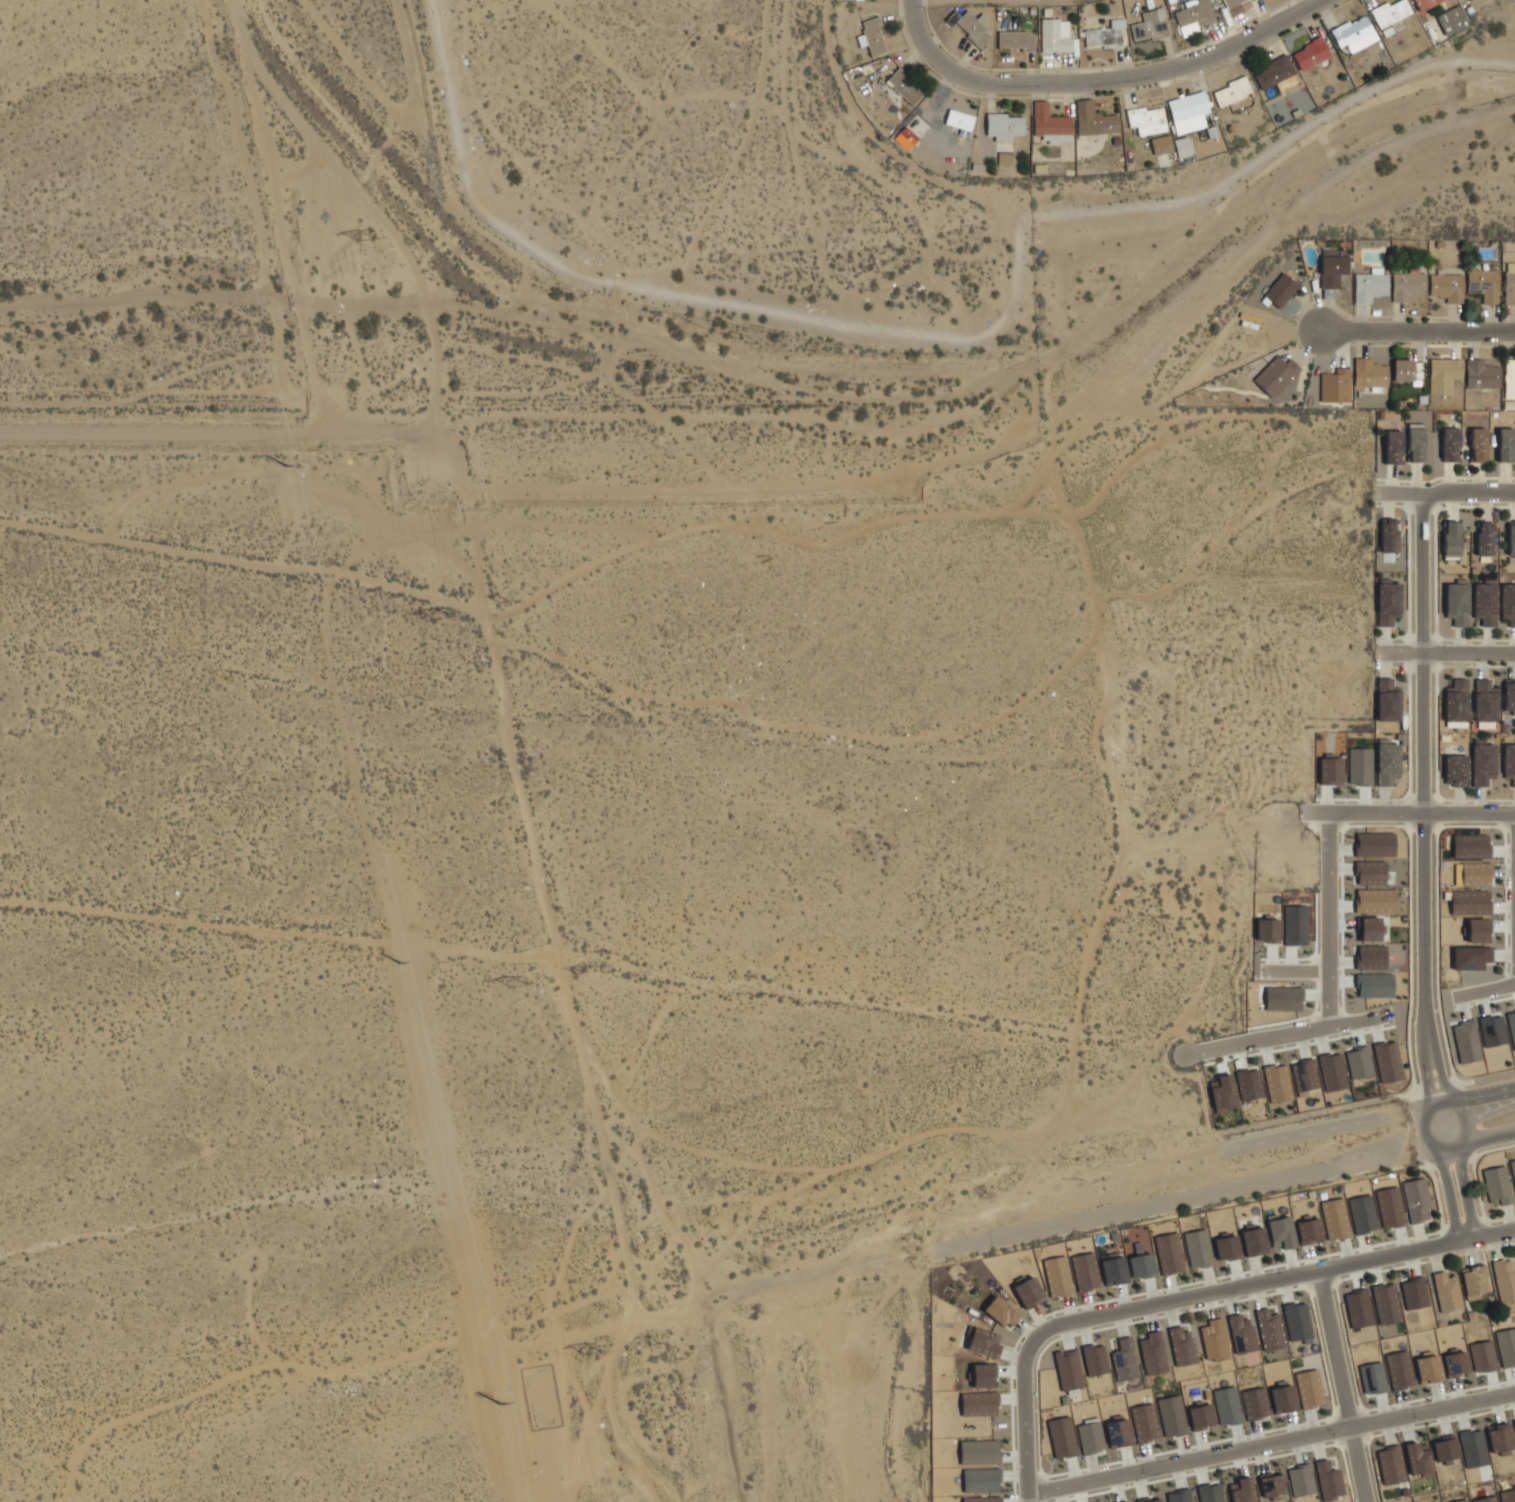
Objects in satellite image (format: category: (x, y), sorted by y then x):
building: (1424, 3)
building: (1238, 5)
building: (1389, 14)
building: (1194, 16)
building: (1452, 20)
building: (1151, 25)
building: (973, 28)
building: (1354, 33)
building: (1054, 35)
building: (1105, 35)
building: (873, 36)
building: (1015, 40)
building: (1310, 53)
building: (1273, 72)
road: (1101, 80)
building: (904, 86)
building: (1231, 91)
building: (1188, 112)
building: (1094, 119)
building: (959, 120)
building: (1147, 120)
building: (1050, 124)
building: (1003, 126)
power tower: (410, 138)
building: (906, 138)
building: (1161, 144)
building: (1182, 147)
building: (1005, 157)
road: (1263, 159)
power tower: (367, 241)
building: (1331, 272)
building: (1509, 283)
building: (1484, 284)
building: (1370, 285)
building: (1407, 286)
building: (1446, 286)
building: (1281, 290)
road: (1417, 330)
building: (1370, 374)
building: (1481, 374)
building: (1275, 375)
building: (1443, 375)
building: (1509, 379)
building: (1335, 386)
building: (1415, 444)
building: (1450, 444)
building: (1478, 445)
building: (1505, 445)
building: (1393, 447)
power tower: (287, 468)
road: (1400, 494)
road: (1468, 495)
building: (1389, 535)
building: (1484, 538)
building: (1511, 538)
building: (1451, 540)
power tower: (503, 601)
building: (1387, 602)
building: (1457, 602)
building: (1485, 602)
building: (1508, 603)
power tower: (444, 618)
road: (1447, 650)
building: (1509, 694)
building: (1387, 700)
building: (1485, 701)
building: (1456, 702)
building: (1387, 762)
building: (1483, 762)
building: (1509, 762)
building: (1359, 766)
building: (1330, 770)
building: (1456, 770)
road: (1421, 776)
road: (1408, 811)
building: (1374, 844)
building: (1470, 846)
building: (1370, 872)
building: (1476, 874)
building: (1375, 900)
building: (1470, 902)
road: (1327, 920)
building: (1295, 925)
building: (1267, 929)
building: (1372, 929)
building: (1478, 930)
power tower: (396, 956)
building: (1371, 957)
building: (1472, 957)
road: (1295, 971)
power tower: (579, 972)
power tower: (518, 985)
building: (1374, 985)
road: (1485, 990)
building: (1283, 998)
building: (1511, 1026)
building: (1492, 1030)
road: (1285, 1035)
building: (1466, 1041)
building: (1387, 1061)
building: (1359, 1062)
building: (1332, 1071)
building: (1304, 1075)
road: (1440, 1076)
road: (1427, 1081)
road: (1464, 1081)
building: (1277, 1082)
building: (1249, 1084)
building: (1222, 1092)
road: (1484, 1094)
road: (1321, 1129)
road: (1490, 1137)
road: (1427, 1139)
road: (1461, 1142)
building: (1513, 1169)
building: (1497, 1185)
road: (1464, 1191)
road: (1205, 1192)
road: (1448, 1193)
building: (1416, 1200)
building: (1390, 1207)
building: (1362, 1214)
building: (1335, 1218)
building: (1308, 1230)
building: (1280, 1231)
building: (1253, 1240)
building: (1197, 1248)
building: (1226, 1248)
building: (1169, 1252)
building: (1141, 1263)
building: (1114, 1269)
building: (1084, 1271)
building: (1057, 1276)
building: (1504, 1279)
road: (1271, 1280)
building: (1474, 1281)
building: (1447, 1291)
building: (1028, 1292)
building: (1414, 1293)
building: (1386, 1304)
building: (1358, 1308)
building: (1000, 1311)
building: (1297, 1321)
building: (1269, 1329)
building: (1242, 1333)
building: (996, 1338)
building: (1213, 1340)
power tower: (654, 1344)
building: (1181, 1345)
building: (1506, 1346)
power tower: (595, 1353)
building: (1153, 1353)
building: (1482, 1355)
building: (1095, 1359)
building: (1124, 1360)
building: (1455, 1363)
building: (1428, 1368)
building: (1068, 1369)
building: (1399, 1369)
building: (982, 1375)
building: (1373, 1378)
road: (1345, 1386)
building: (1309, 1388)
building: (1282, 1398)
building: (978, 1403)
building: (1254, 1403)
building: (1227, 1405)
building: (1171, 1415)
building: (1200, 1416)
road: (1025, 1420)
building: (1145, 1422)
building: (1514, 1424)
building: (1118, 1432)
building: (1089, 1436)
building: (1062, 1437)
building: (1500, 1438)
road: (1271, 1441)
building: (1472, 1448)
building: (1444, 1449)
building: (979, 1452)
building: (1418, 1459)
building: (1390, 1465)
building: (1301, 1479)
building: (981, 1480)
building: (1328, 1480)
building: (1270, 1485)
building: (1242, 1490)
building: (1210, 1493)
building: (1508, 1495)
building: (1179, 1496)
building: (1150, 1499)
building: (1485, 1499)
building: (1461, 1500)
building: (1128, 1501)

